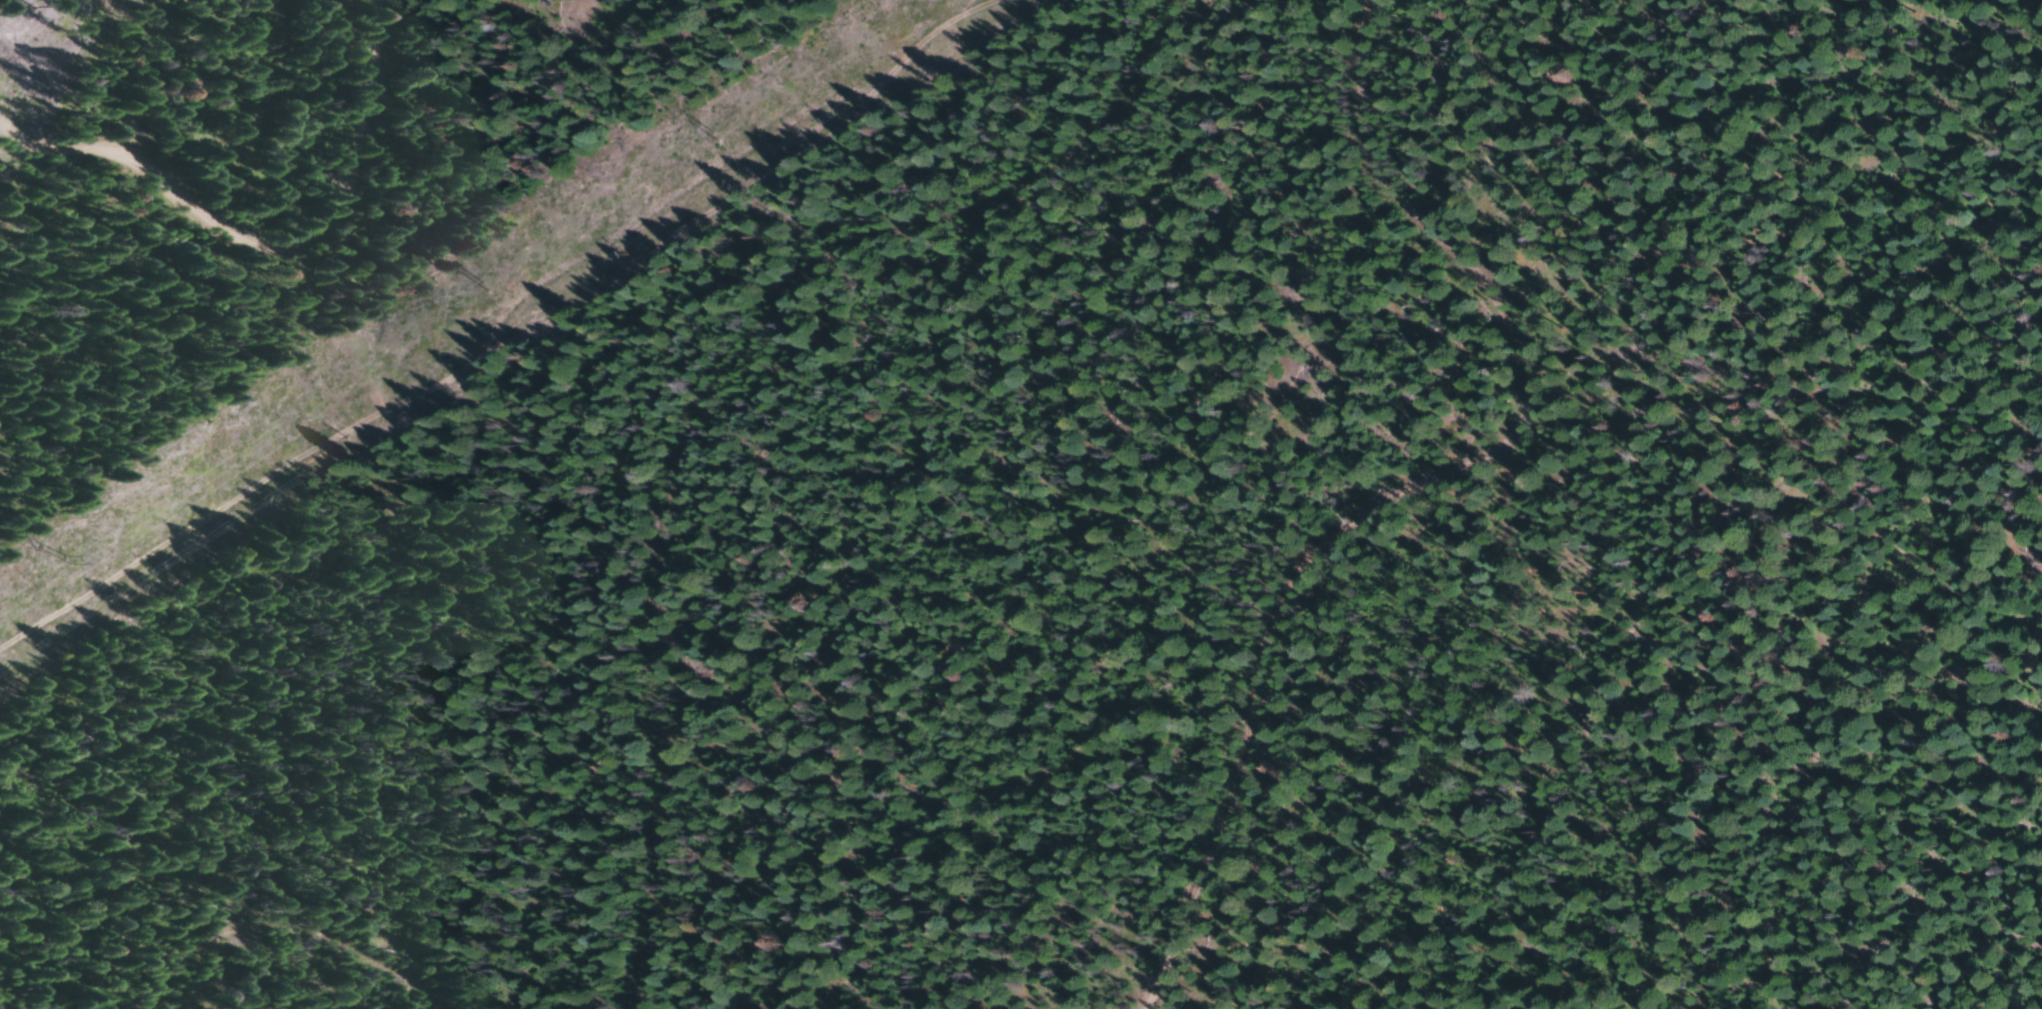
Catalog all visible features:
power tower: (717, 139)
road: (243, 228)
power tower: (482, 285)
road: (735, 407)
road: (1427, 502)
power tower: (74, 560)
road: (198, 936)

